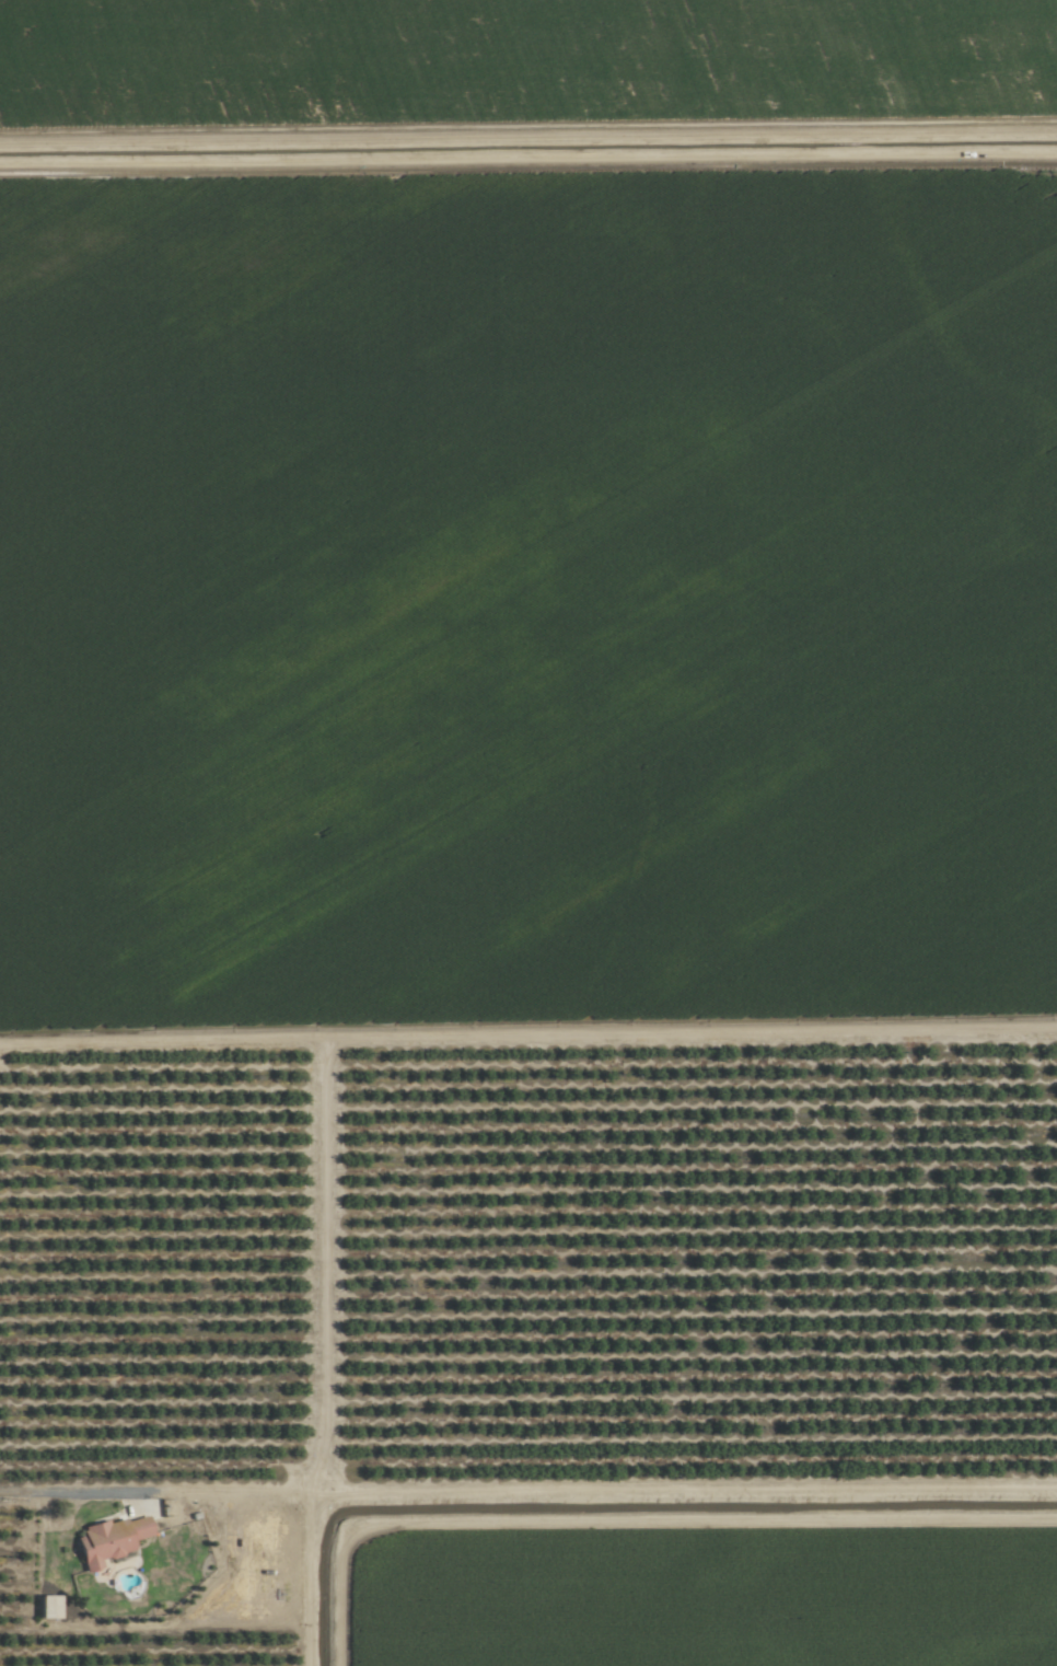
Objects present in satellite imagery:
road: (320, 1263)
building: (108, 1539)

